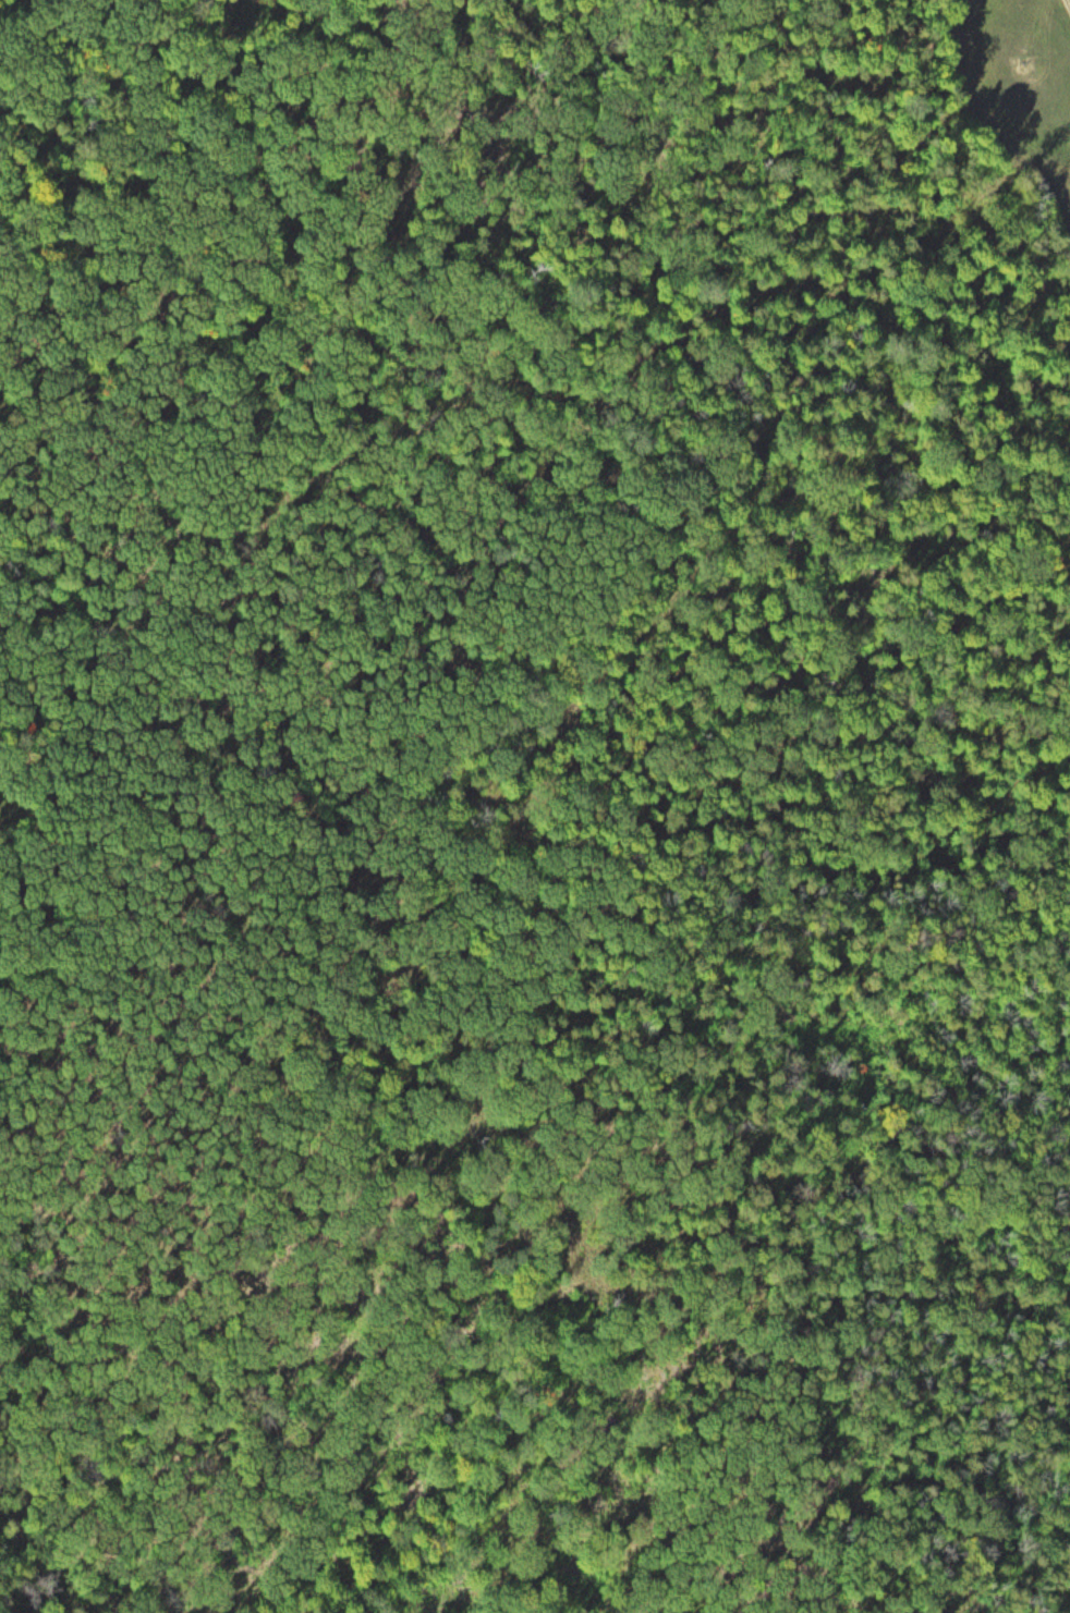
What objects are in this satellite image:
road: (1068, 4)

